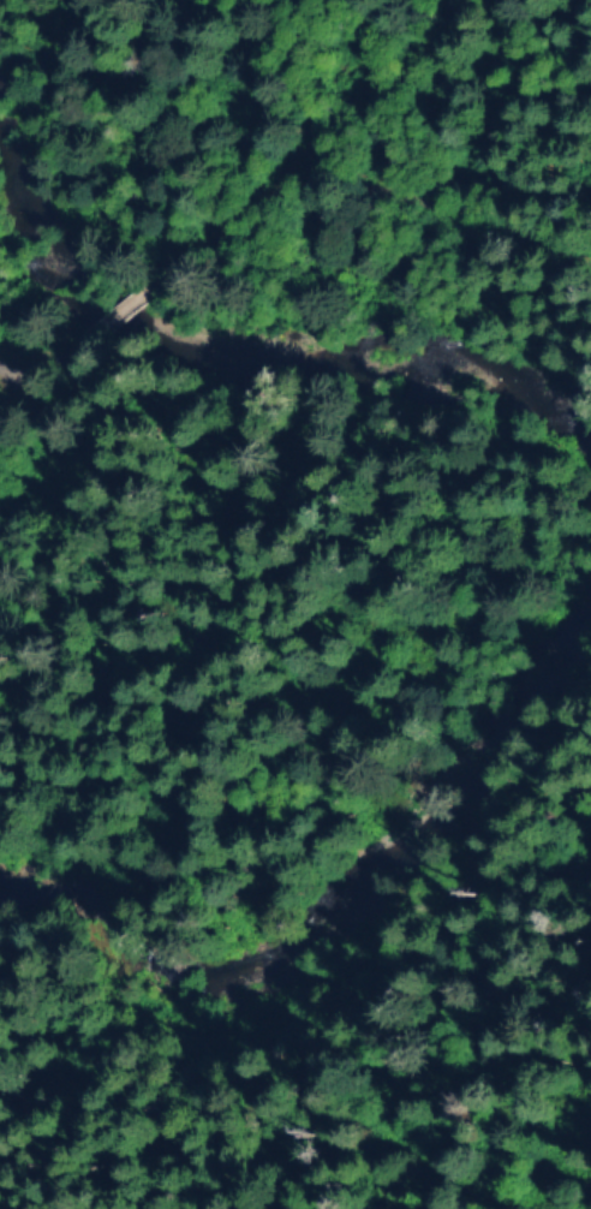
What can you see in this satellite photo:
river: (568, 467)

